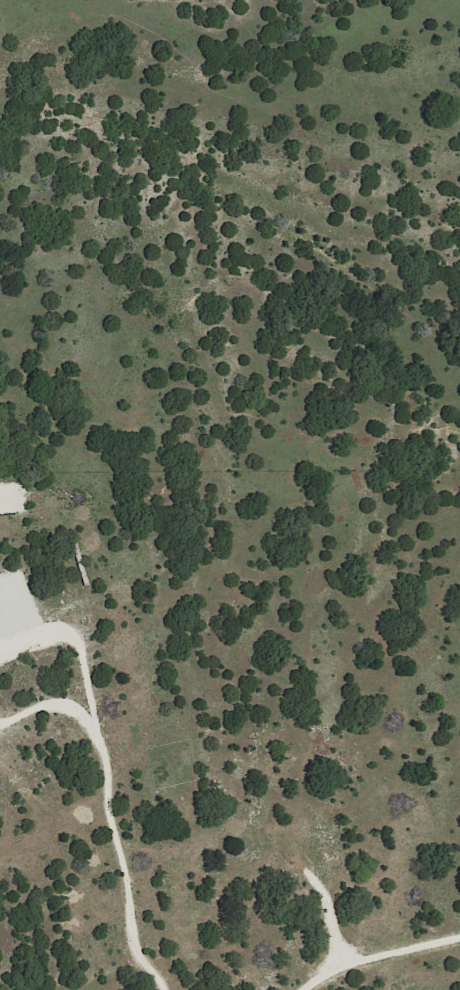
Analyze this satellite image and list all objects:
building: (76, 551)
building: (83, 573)
road: (106, 807)
road: (377, 954)

